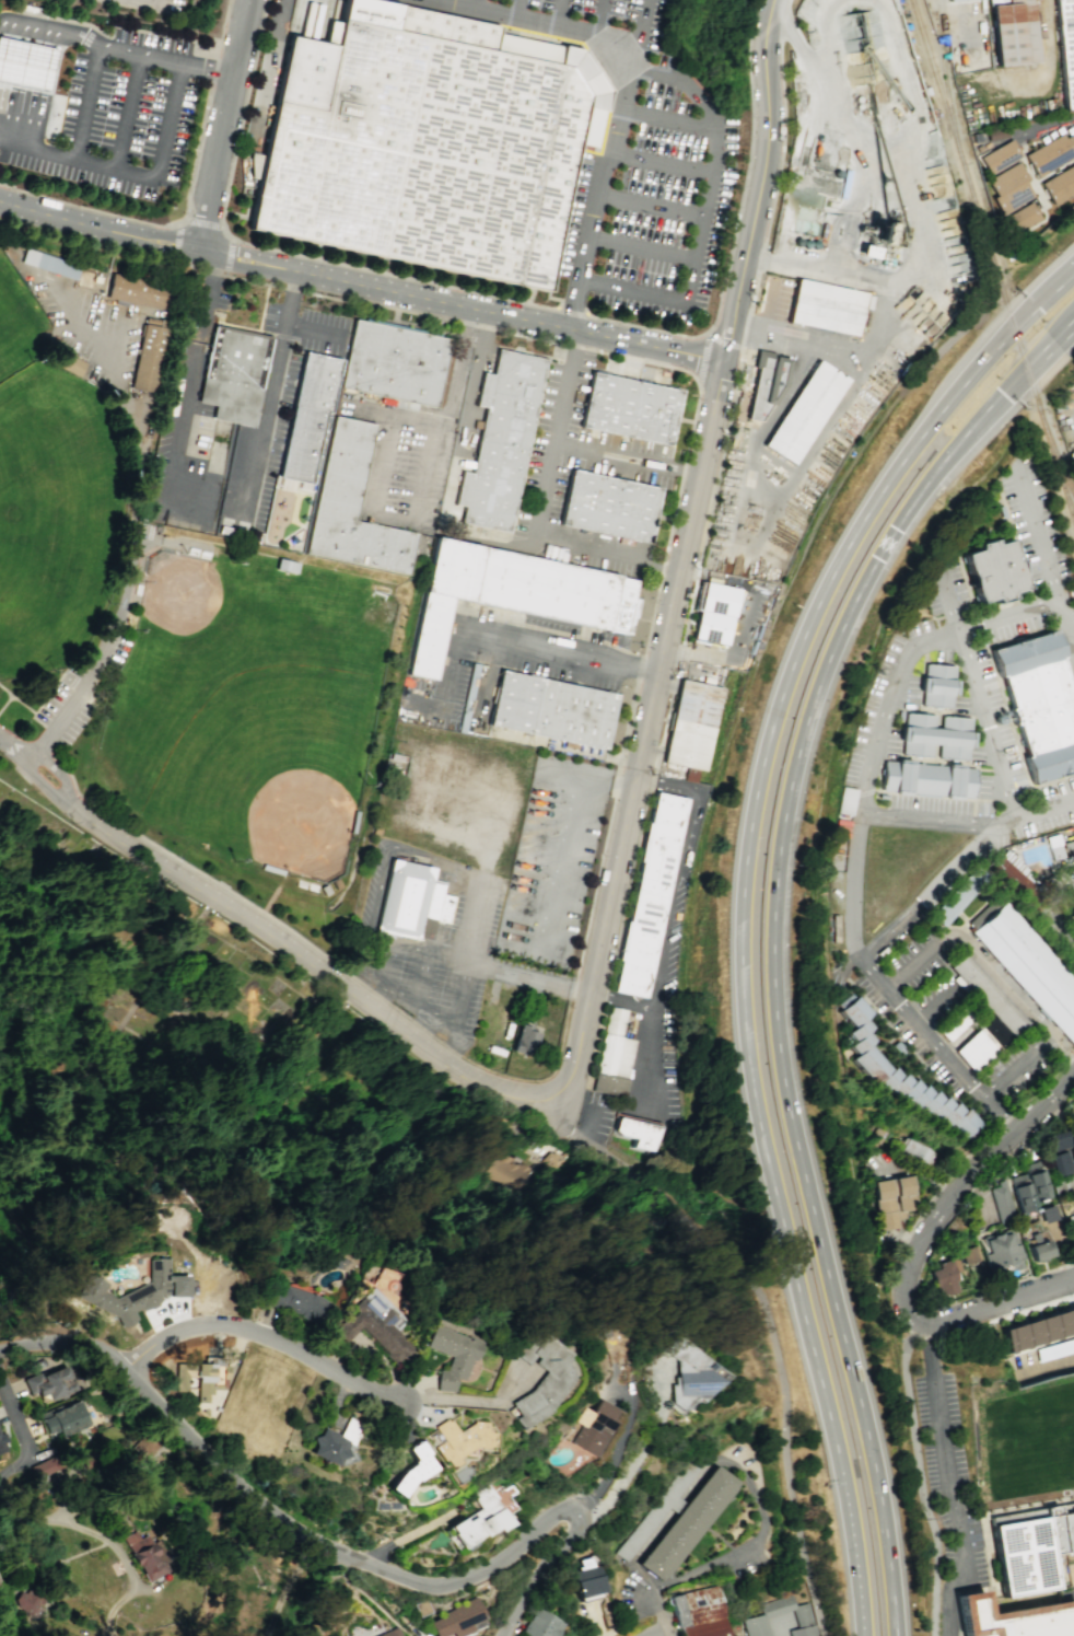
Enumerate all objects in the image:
road: (153, 1)
building: (958, 1)
road: (441, 2)
building: (1009, 2)
road: (483, 7)
parking lot: (172, 8)
building: (28, 9)
parking lot: (370, 9)
road: (524, 11)
road: (565, 15)
road: (608, 20)
railway: (938, 21)
road: (533, 24)
road: (35, 27)
building: (1017, 36)
building: (1066, 46)
building: (861, 47)
road: (318, 51)
building: (25, 62)
road: (184, 67)
road: (275, 69)
road: (210, 70)
road: (638, 79)
road: (22, 84)
road: (44, 90)
railway: (946, 104)
road: (131, 113)
parking lot: (118, 119)
road: (674, 125)
road: (226, 127)
road: (1029, 129)
building: (1072, 141)
building: (433, 146)
road: (37, 148)
road: (768, 151)
building: (1054, 154)
building: (1003, 158)
building: (255, 165)
parking lot: (589, 169)
road: (669, 169)
parking lot: (645, 178)
building: (1007, 179)
building: (1063, 188)
building: (1014, 201)
road: (188, 204)
road: (653, 209)
building: (1040, 210)
road: (592, 217)
building: (1022, 217)
road: (205, 222)
road: (709, 222)
road: (85, 240)
road: (175, 241)
road: (644, 253)
road: (230, 256)
building: (50, 262)
railway: (991, 262)
road: (1069, 274)
road: (852, 277)
building: (85, 278)
road: (329, 281)
building: (140, 289)
road: (514, 302)
road: (572, 308)
building: (828, 309)
park: (19, 327)
road: (310, 328)
road: (1073, 329)
road: (729, 332)
road: (708, 340)
road: (723, 343)
parking lot: (95, 347)
building: (149, 356)
road: (703, 356)
road: (692, 357)
road: (633, 359)
building: (66, 360)
building: (395, 363)
building: (235, 375)
building: (769, 382)
road: (187, 387)
road: (268, 394)
building: (633, 410)
road: (457, 411)
building: (805, 413)
building: (311, 417)
road: (825, 429)
building: (502, 441)
road: (135, 443)
parking lot: (599, 455)
railway: (1055, 455)
road: (626, 459)
road: (384, 464)
road: (424, 471)
road: (715, 494)
road: (538, 508)
building: (610, 508)
building: (353, 509)
park: (50, 520)
road: (456, 531)
parking lot: (147, 532)
road: (1036, 535)
building: (284, 568)
building: (992, 570)
building: (557, 593)
building: (444, 602)
road: (950, 605)
road: (1037, 608)
park: (177, 613)
building: (716, 616)
road: (945, 638)
road: (560, 651)
road: (450, 676)
building: (936, 685)
parking lot: (990, 686)
parking lot: (81, 692)
road: (82, 695)
road: (3, 700)
road: (16, 703)
building: (1038, 703)
road: (42, 704)
park: (249, 711)
building: (554, 711)
building: (898, 715)
building: (696, 728)
road: (645, 735)
building: (935, 735)
road: (5, 742)
road: (23, 776)
road: (59, 776)
building: (926, 778)
road: (616, 786)
road: (46, 789)
building: (882, 796)
building: (845, 800)
road: (1042, 812)
road: (990, 822)
road: (570, 840)
building: (1073, 842)
building: (1053, 846)
building: (1071, 854)
road: (746, 859)
parking lot: (552, 860)
building: (1009, 872)
road: (851, 884)
road: (222, 886)
road: (595, 887)
building: (330, 889)
building: (651, 895)
building: (958, 896)
building: (1073, 898)
building: (411, 901)
road: (1058, 909)
building: (1071, 909)
parking lot: (1054, 912)
road: (475, 915)
road: (669, 916)
road: (894, 926)
road: (774, 943)
parking lot: (434, 952)
road: (920, 961)
road: (850, 963)
building: (1027, 964)
road: (318, 965)
parking lot: (838, 970)
road: (874, 973)
road: (420, 977)
road: (537, 981)
road: (572, 989)
building: (983, 990)
road: (604, 996)
road: (1013, 998)
road: (621, 1000)
road: (934, 1003)
parking lot: (911, 1008)
building: (954, 1023)
road: (424, 1025)
road: (422, 1026)
road: (454, 1034)
road: (437, 1039)
building: (525, 1040)
road: (934, 1041)
road: (594, 1045)
building: (617, 1048)
road: (452, 1049)
park: (184, 1058)
road: (1014, 1066)
building: (874, 1067)
road: (541, 1079)
road: (1047, 1102)
road: (577, 1104)
road: (488, 1107)
road: (997, 1113)
building: (639, 1133)
road: (980, 1139)
building: (1053, 1140)
building: (914, 1153)
building: (1059, 1162)
building: (518, 1169)
building: (1035, 1180)
building: (1060, 1187)
building: (1020, 1192)
building: (890, 1200)
building: (1001, 1203)
road: (935, 1211)
building: (1048, 1214)
building: (1071, 1229)
building: (1001, 1250)
building: (1039, 1250)
building: (968, 1254)
park: (685, 1273)
building: (944, 1277)
road: (1000, 1286)
building: (133, 1291)
building: (295, 1302)
road: (994, 1304)
road: (921, 1314)
road: (768, 1318)
building: (1069, 1318)
building: (1057, 1323)
building: (375, 1324)
building: (1041, 1328)
building: (1027, 1333)
road: (262, 1334)
building: (1012, 1337)
building: (1055, 1349)
building: (451, 1355)
building: (691, 1373)
building: (540, 1377)
building: (49, 1383)
building: (203, 1383)
road: (472, 1401)
road: (16, 1417)
building: (63, 1419)
building: (594, 1425)
building: (459, 1439)
park: (1025, 1443)
building: (2, 1444)
building: (143, 1444)
building: (328, 1446)
road: (617, 1449)
road: (640, 1452)
building: (43, 1467)
building: (409, 1469)
road: (21, 1475)
road: (919, 1477)
parking lot: (950, 1477)
road: (946, 1482)
building: (662, 1507)
building: (478, 1519)
building: (687, 1521)
road: (662, 1525)
road: (408, 1533)
road: (720, 1538)
road: (108, 1542)
building: (1034, 1548)
road: (337, 1551)
road: (732, 1552)
building: (145, 1556)
road: (856, 1557)
parking lot: (746, 1560)
road: (348, 1565)
street lamp: (353, 1576)
building: (586, 1578)
parking lot: (1073, 1590)
road: (331, 1592)
parking lot: (637, 1598)
building: (27, 1601)
building: (698, 1612)
road: (862, 1614)
building: (799, 1615)
building: (456, 1617)
building: (1016, 1620)
building: (541, 1624)
building: (755, 1625)
road: (777, 1629)
building: (389, 1633)
road: (663, 1634)
building: (807, 1635)

